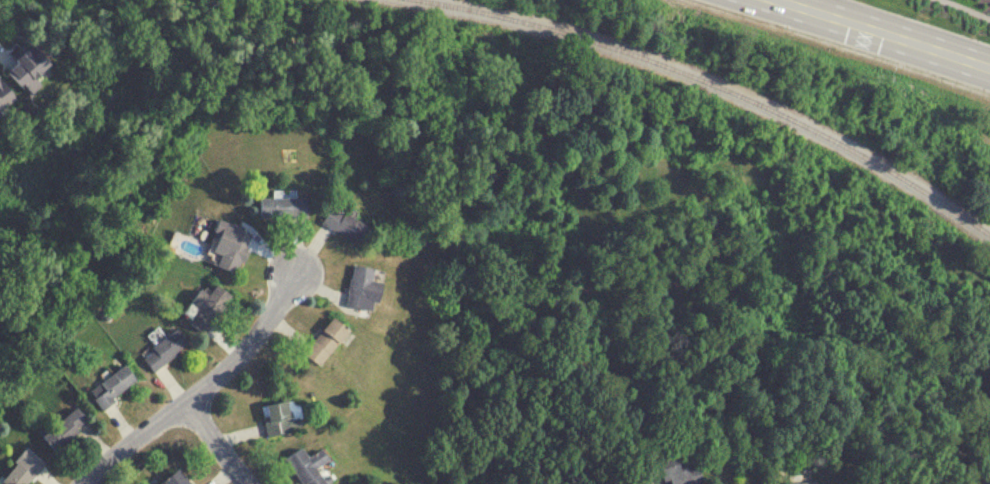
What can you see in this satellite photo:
road: (969, 7)
road: (884, 33)
building: (29, 65)
railway: (717, 86)
building: (5, 93)
building: (282, 206)
building: (345, 223)
building: (230, 244)
building: (363, 287)
building: (208, 305)
building: (326, 339)
building: (165, 348)
building: (113, 384)
road: (202, 389)
building: (278, 417)
building: (65, 427)
road: (218, 442)
building: (309, 465)
building: (22, 468)
building: (676, 469)
building: (179, 478)
building: (800, 482)

